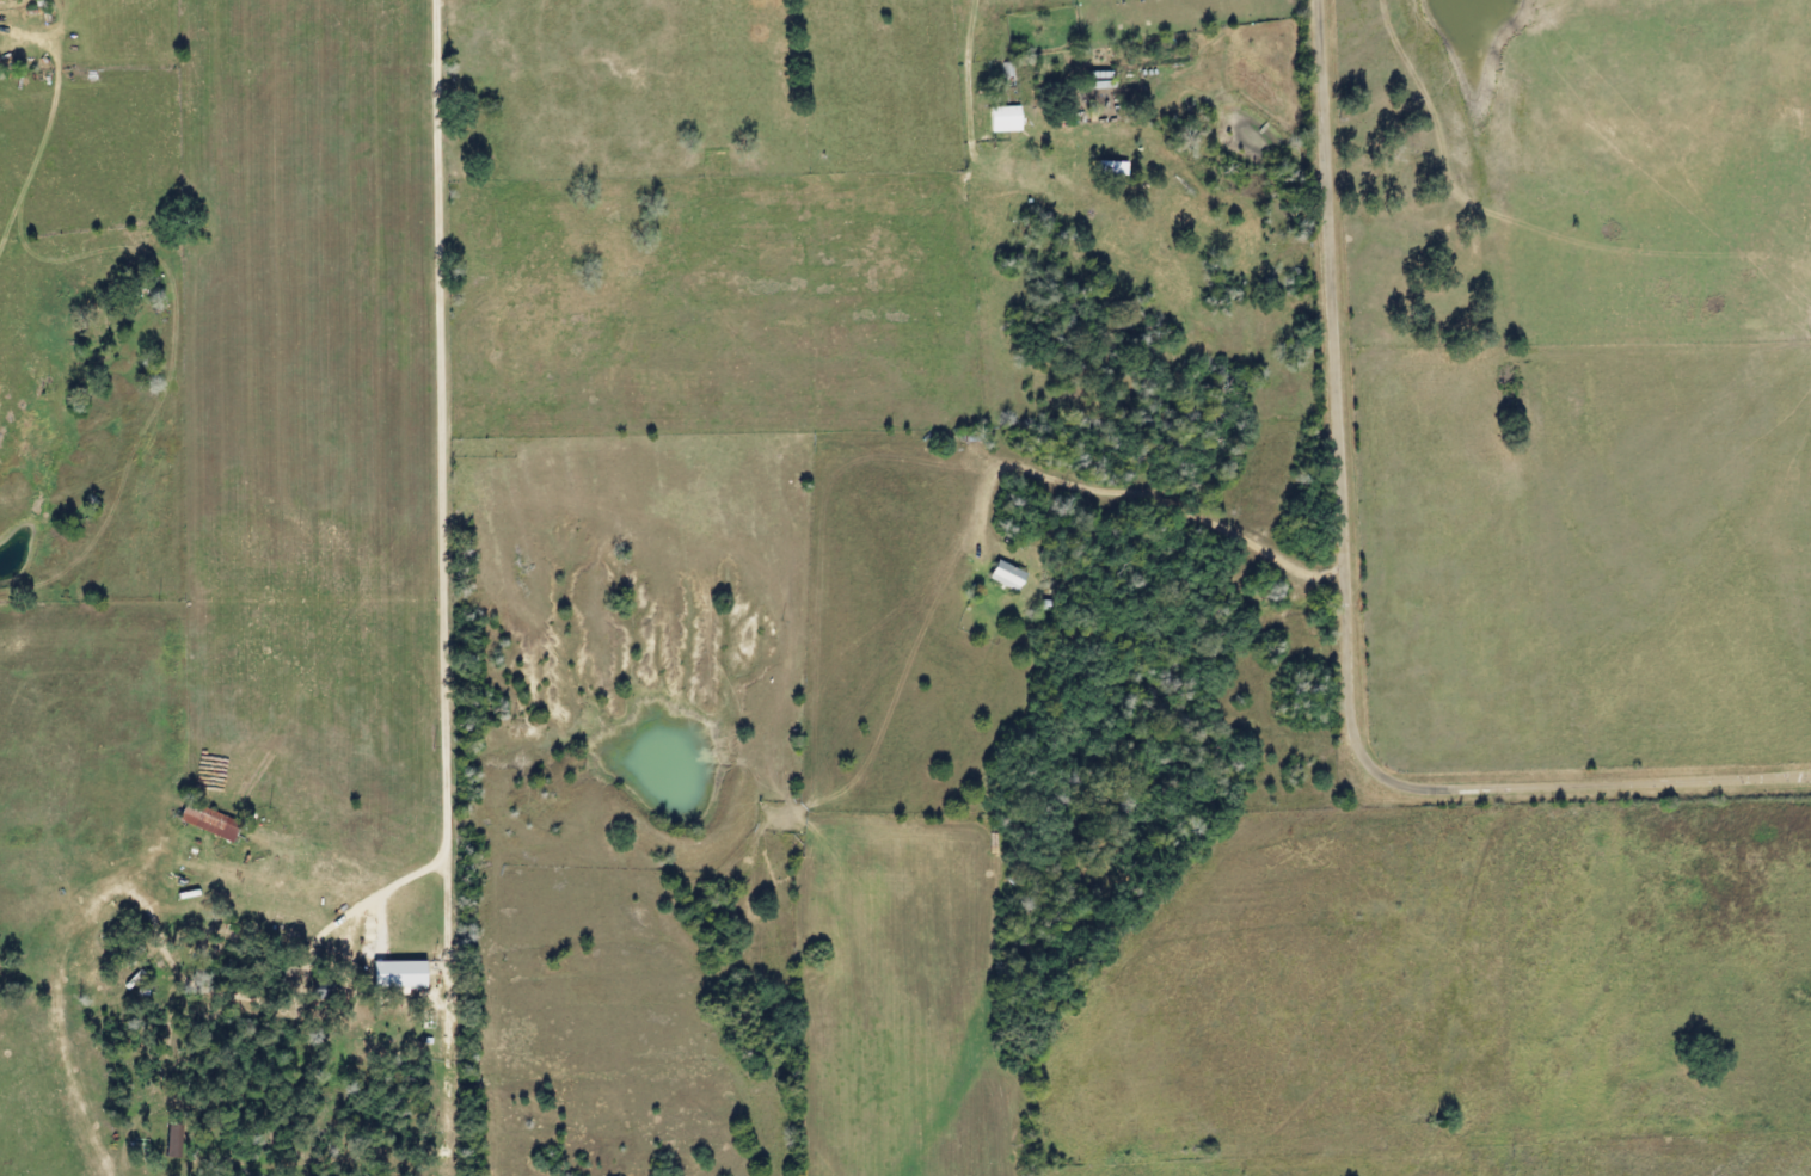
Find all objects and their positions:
road: (966, 31)
building: (1000, 119)
road: (1271, 418)
building: (1000, 575)
road: (1352, 603)
road: (437, 615)
building: (202, 823)
building: (86, 960)
building: (165, 1140)

